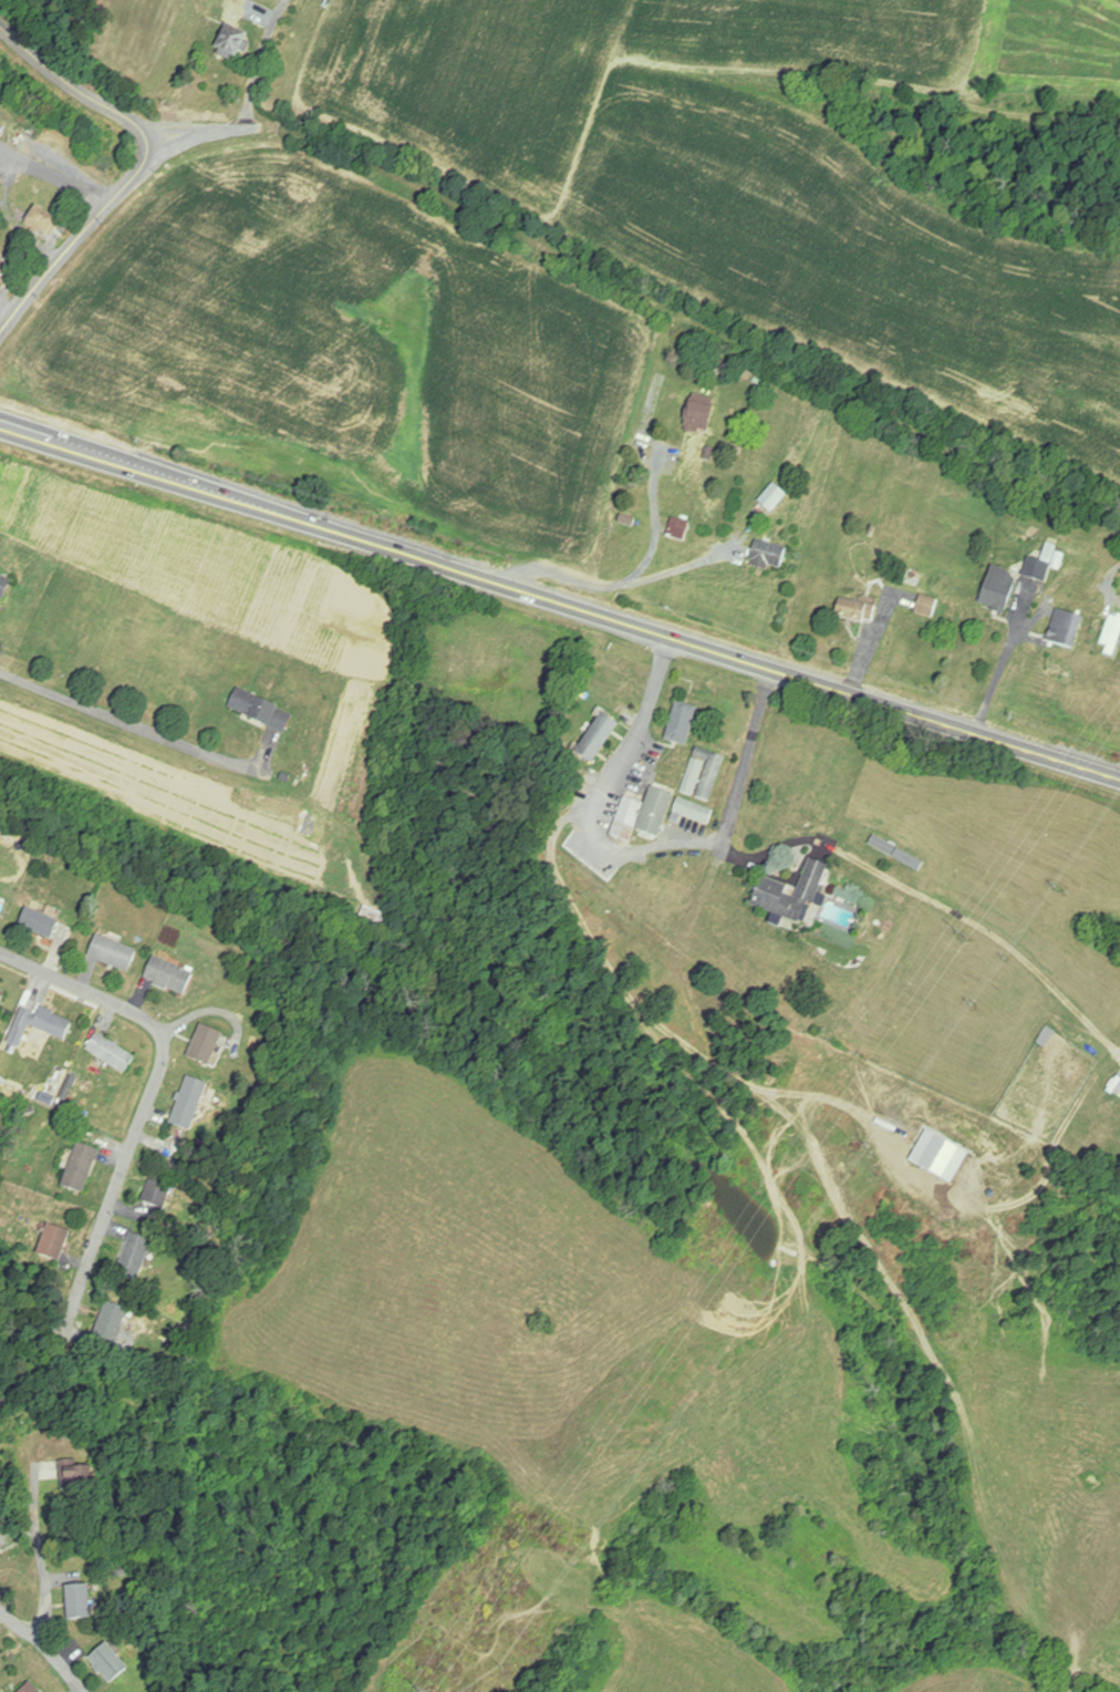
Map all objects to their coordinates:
building: (236, 40)
road: (246, 110)
road: (143, 167)
road: (54, 175)
building: (42, 220)
building: (3, 269)
road: (7, 314)
building: (699, 419)
building: (775, 497)
road: (653, 526)
building: (681, 528)
building: (769, 555)
building: (1037, 575)
building: (4, 584)
road: (619, 585)
building: (1000, 589)
road: (559, 602)
building: (929, 605)
building: (858, 610)
building: (1067, 628)
road: (997, 675)
road: (83, 704)
building: (262, 710)
building: (682, 723)
building: (599, 737)
building: (704, 775)
building: (695, 811)
building: (644, 815)
road: (646, 847)
building: (792, 894)
building: (376, 917)
building: (41, 922)
power tower: (966, 931)
building: (114, 952)
building: (170, 974)
building: (2, 997)
building: (41, 1024)
building: (207, 1045)
building: (112, 1053)
road: (153, 1096)
building: (190, 1104)
building: (941, 1156)
building: (82, 1168)
building: (159, 1190)
building: (54, 1245)
building: (135, 1256)
building: (113, 1323)
road: (39, 1557)
building: (80, 1601)
road: (43, 1648)
building: (110, 1663)
building: (31, 1689)

